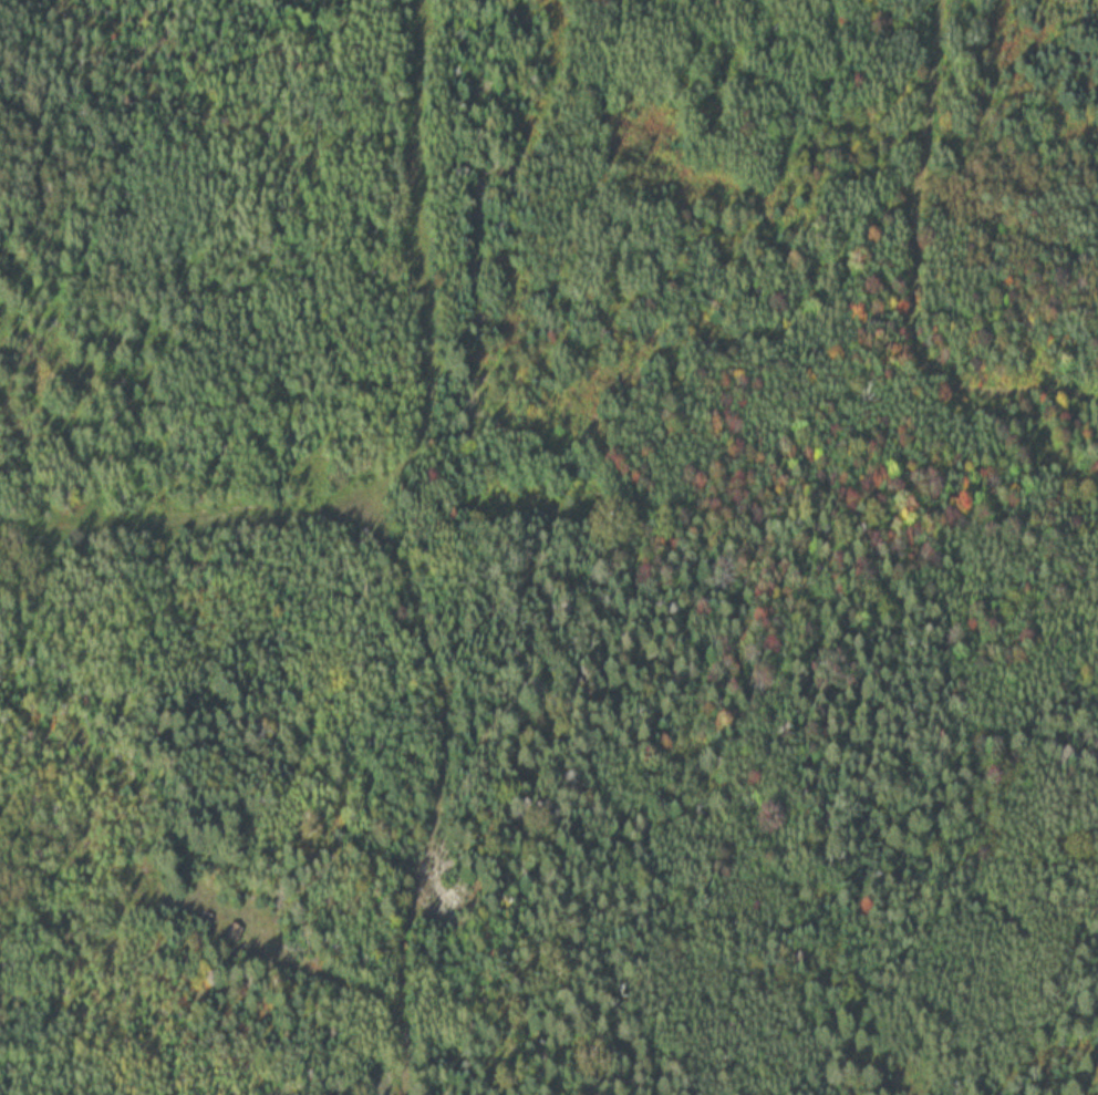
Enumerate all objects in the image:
building: (231, 934)

